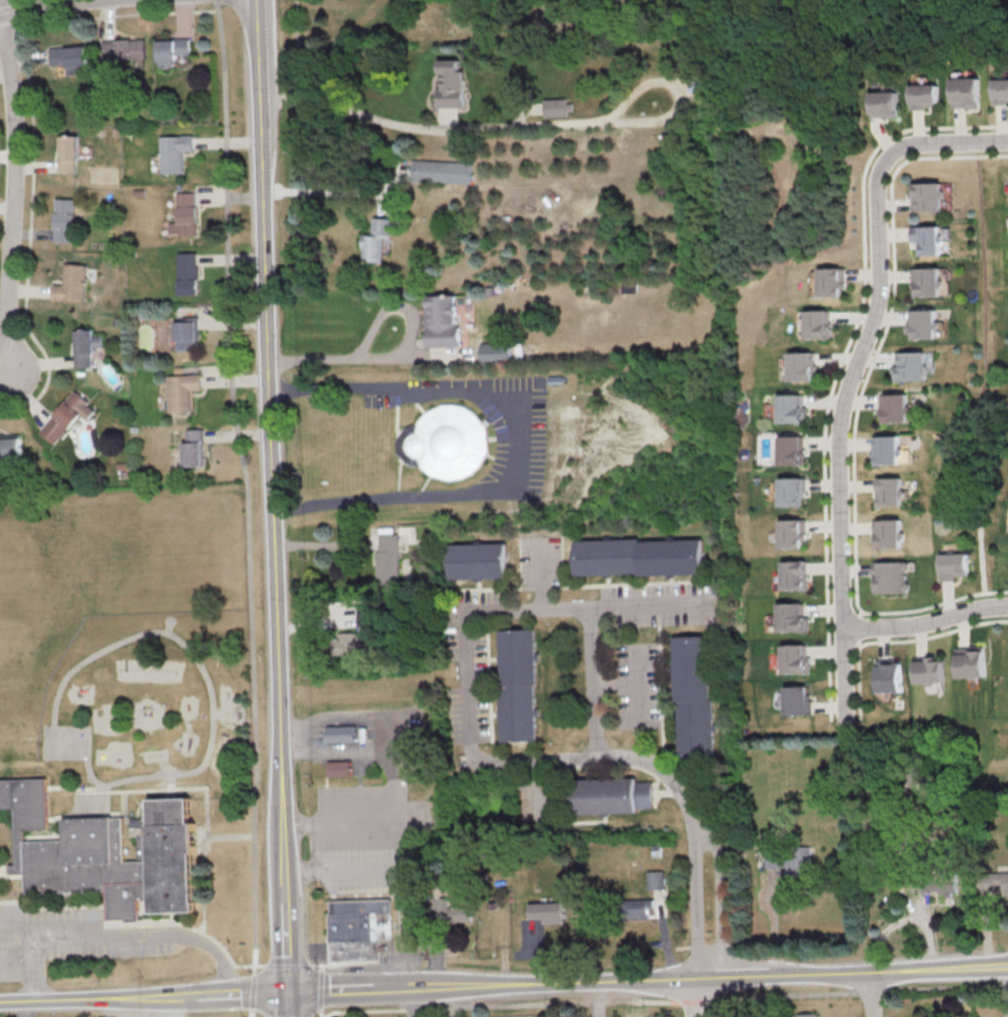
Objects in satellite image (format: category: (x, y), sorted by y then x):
road: (49, 6)
building: (123, 48)
building: (171, 50)
building: (69, 57)
building: (448, 83)
building: (999, 90)
building: (964, 92)
building: (923, 95)
building: (882, 102)
building: (551, 107)
road: (454, 129)
building: (174, 152)
building: (67, 153)
building: (438, 171)
road: (11, 178)
road: (326, 188)
building: (924, 196)
building: (184, 215)
building: (64, 220)
building: (924, 239)
building: (377, 240)
building: (187, 273)
building: (923, 281)
building: (828, 282)
building: (71, 283)
building: (442, 321)
building: (920, 323)
building: (815, 324)
building: (186, 335)
building: (82, 347)
building: (494, 351)
road: (344, 358)
road: (839, 361)
building: (908, 365)
building: (800, 366)
road: (852, 372)
road: (982, 374)
road: (14, 375)
building: (182, 391)
road: (857, 403)
building: (790, 408)
building: (892, 408)
building: (771, 410)
building: (67, 416)
road: (526, 438)
building: (450, 442)
building: (10, 446)
building: (191, 449)
building: (789, 449)
building: (885, 449)
building: (791, 491)
building: (888, 491)
road: (272, 508)
building: (887, 533)
road: (314, 544)
building: (388, 558)
building: (480, 559)
building: (640, 565)
building: (953, 565)
building: (795, 575)
building: (891, 576)
building: (778, 581)
road: (642, 601)
building: (364, 615)
building: (792, 616)
road: (926, 622)
road: (856, 627)
road: (898, 640)
building: (351, 643)
building: (796, 659)
building: (971, 661)
building: (929, 670)
building: (890, 676)
building: (522, 683)
road: (616, 683)
road: (640, 686)
road: (464, 689)
building: (690, 692)
building: (799, 700)
road: (391, 732)
building: (341, 733)
road: (299, 737)
building: (338, 768)
building: (610, 795)
road: (406, 844)
building: (107, 855)
building: (772, 857)
building: (796, 861)
building: (993, 883)
building: (939, 884)
road: (694, 902)
road: (718, 902)
building: (637, 908)
building: (547, 911)
building: (453, 912)
building: (353, 919)
building: (337, 920)
road: (7, 921)
road: (770, 926)
road: (143, 936)
road: (27, 938)
building: (355, 949)
road: (15, 961)
road: (710, 978)
road: (31, 980)
road: (349, 986)
road: (1005, 992)
road: (142, 993)
road: (872, 995)
road: (694, 998)
road: (593, 999)
road: (413, 1001)
road: (250, 1013)
building: (806, 1014)

